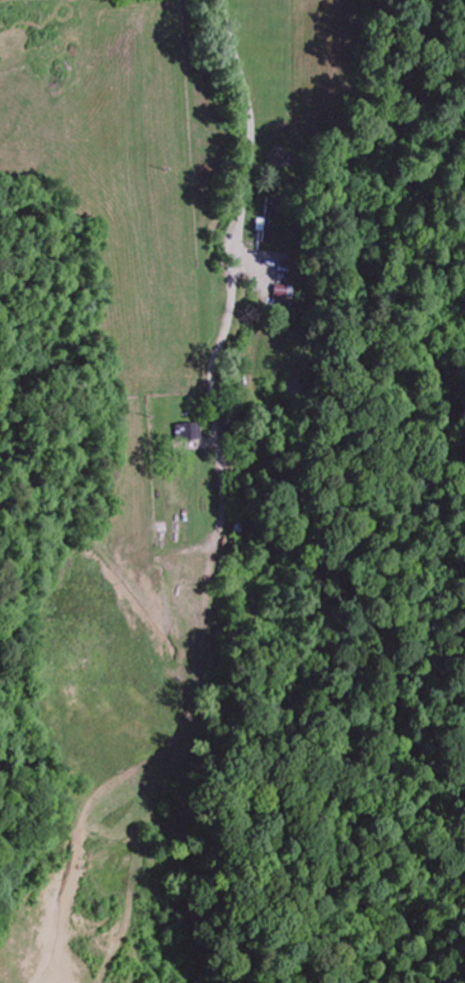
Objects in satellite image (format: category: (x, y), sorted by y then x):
building: (268, 221)
building: (284, 290)
building: (227, 428)
building: (188, 432)
road: (222, 515)
building: (171, 576)

